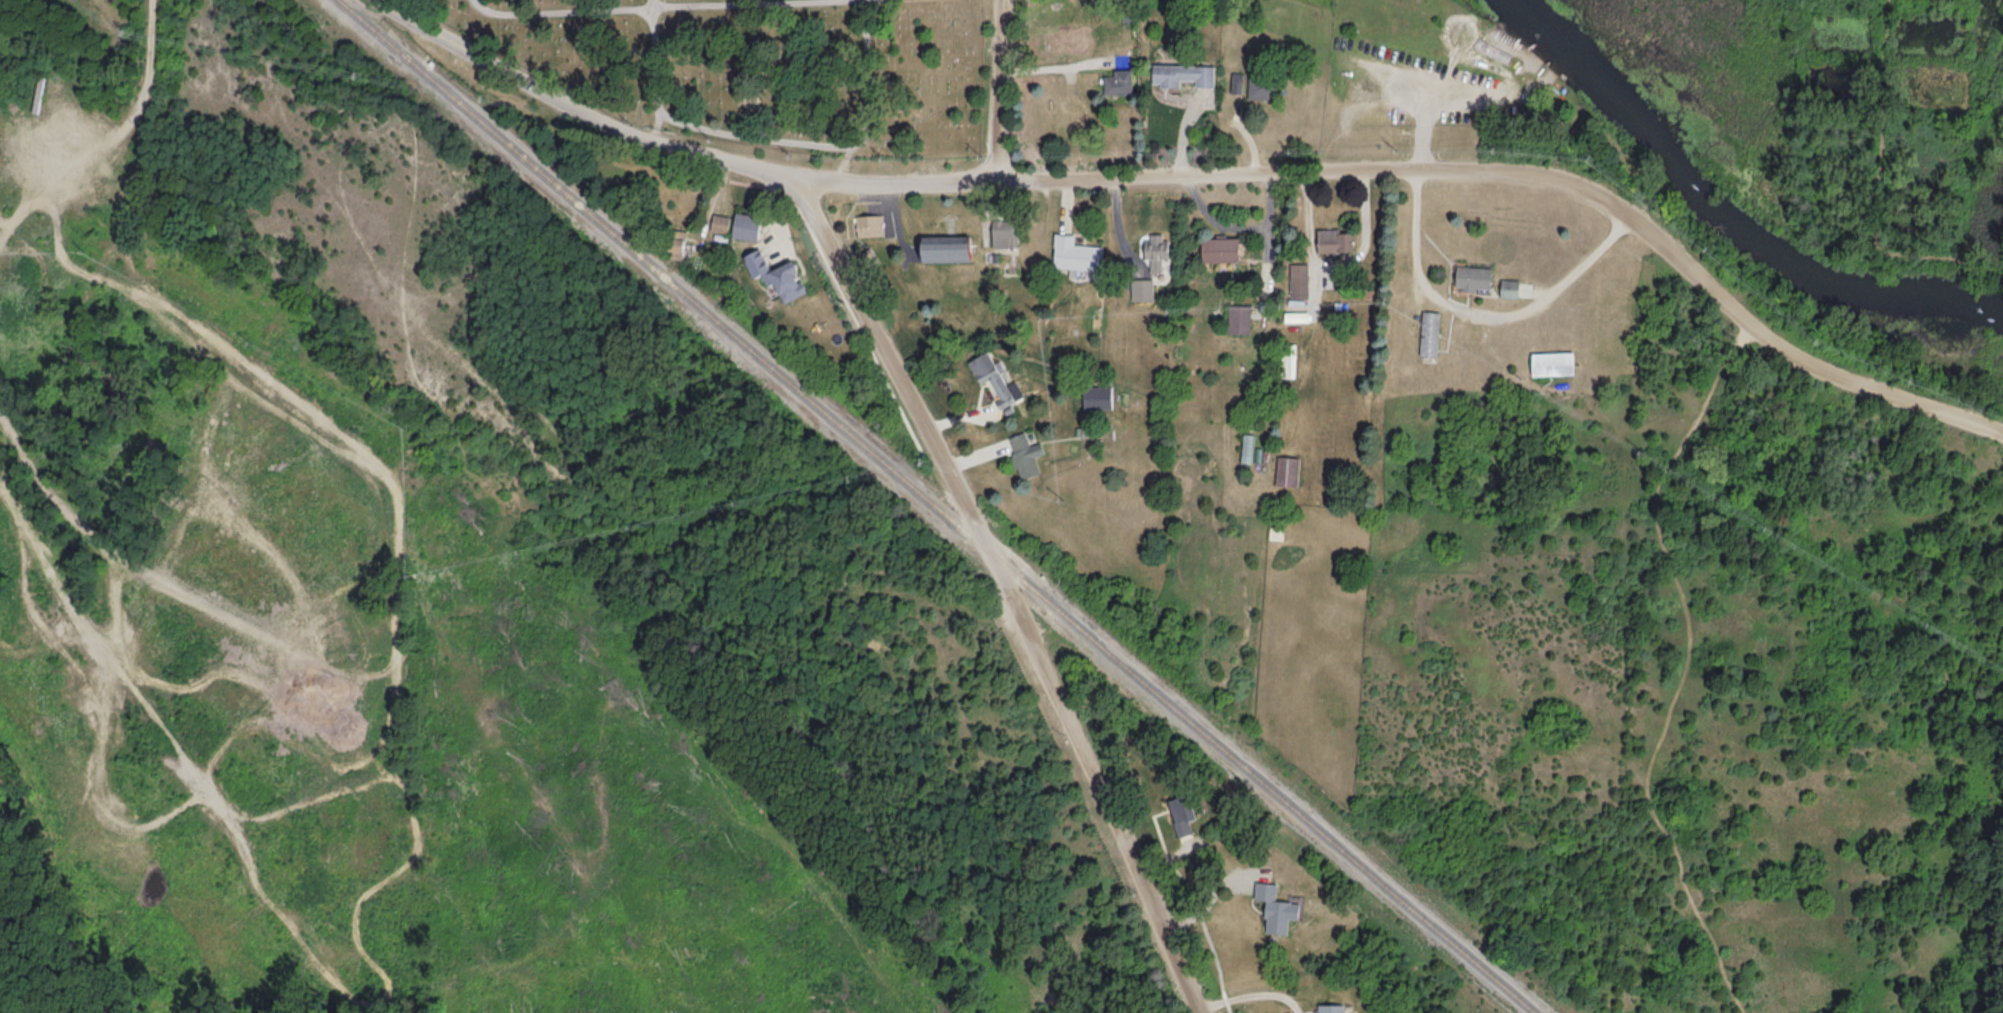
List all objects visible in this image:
road: (655, 7)
road: (154, 42)
road: (998, 64)
park: (761, 67)
road: (657, 71)
building: (1182, 73)
building: (1118, 82)
building: (1236, 82)
road: (1385, 84)
building: (1261, 88)
parking lot: (1413, 91)
road: (581, 111)
road: (831, 145)
road: (995, 155)
road: (845, 165)
road: (1537, 172)
road: (900, 184)
road: (812, 203)
river: (1722, 213)
building: (719, 222)
building: (869, 224)
building: (746, 225)
building: (1003, 232)
building: (1334, 239)
building: (676, 243)
building: (946, 247)
building: (1220, 248)
building: (1075, 252)
building: (756, 261)
building: (1155, 264)
building: (1472, 276)
building: (785, 279)
building: (1298, 279)
building: (1508, 287)
road: (1480, 313)
building: (1238, 318)
building: (1429, 332)
parking lot: (1746, 334)
building: (1552, 362)
building: (994, 377)
building: (1097, 396)
building: (1025, 454)
building: (1286, 470)
railway: (930, 507)
road: (1019, 614)
road: (1686, 667)
building: (1181, 812)
road: (1213, 897)
road: (1253, 991)

